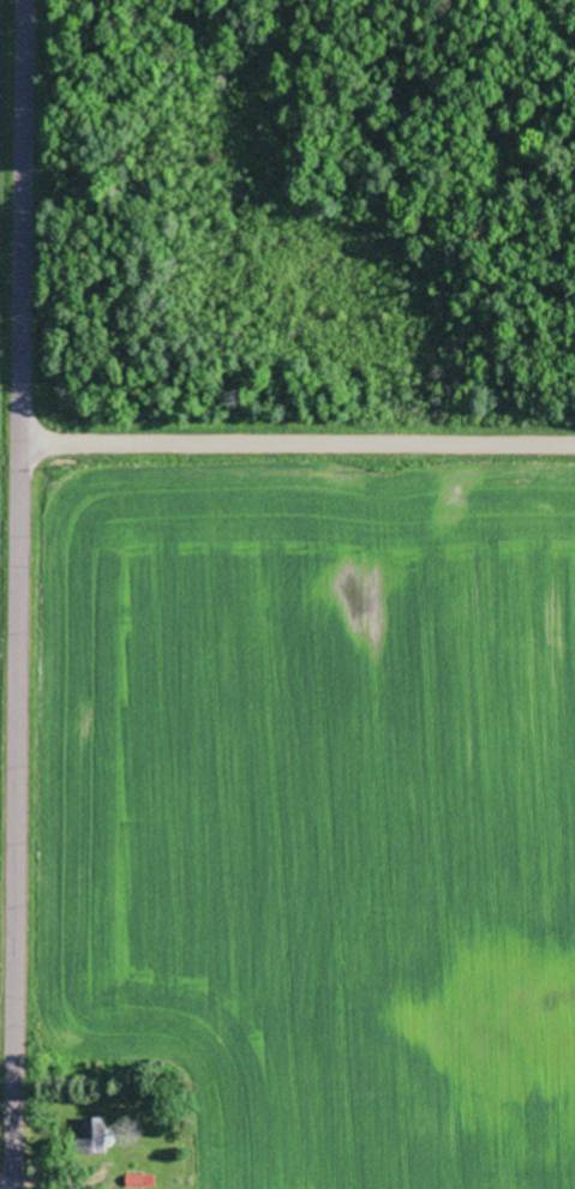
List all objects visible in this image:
road: (306, 448)
road: (38, 594)
building: (100, 1134)

